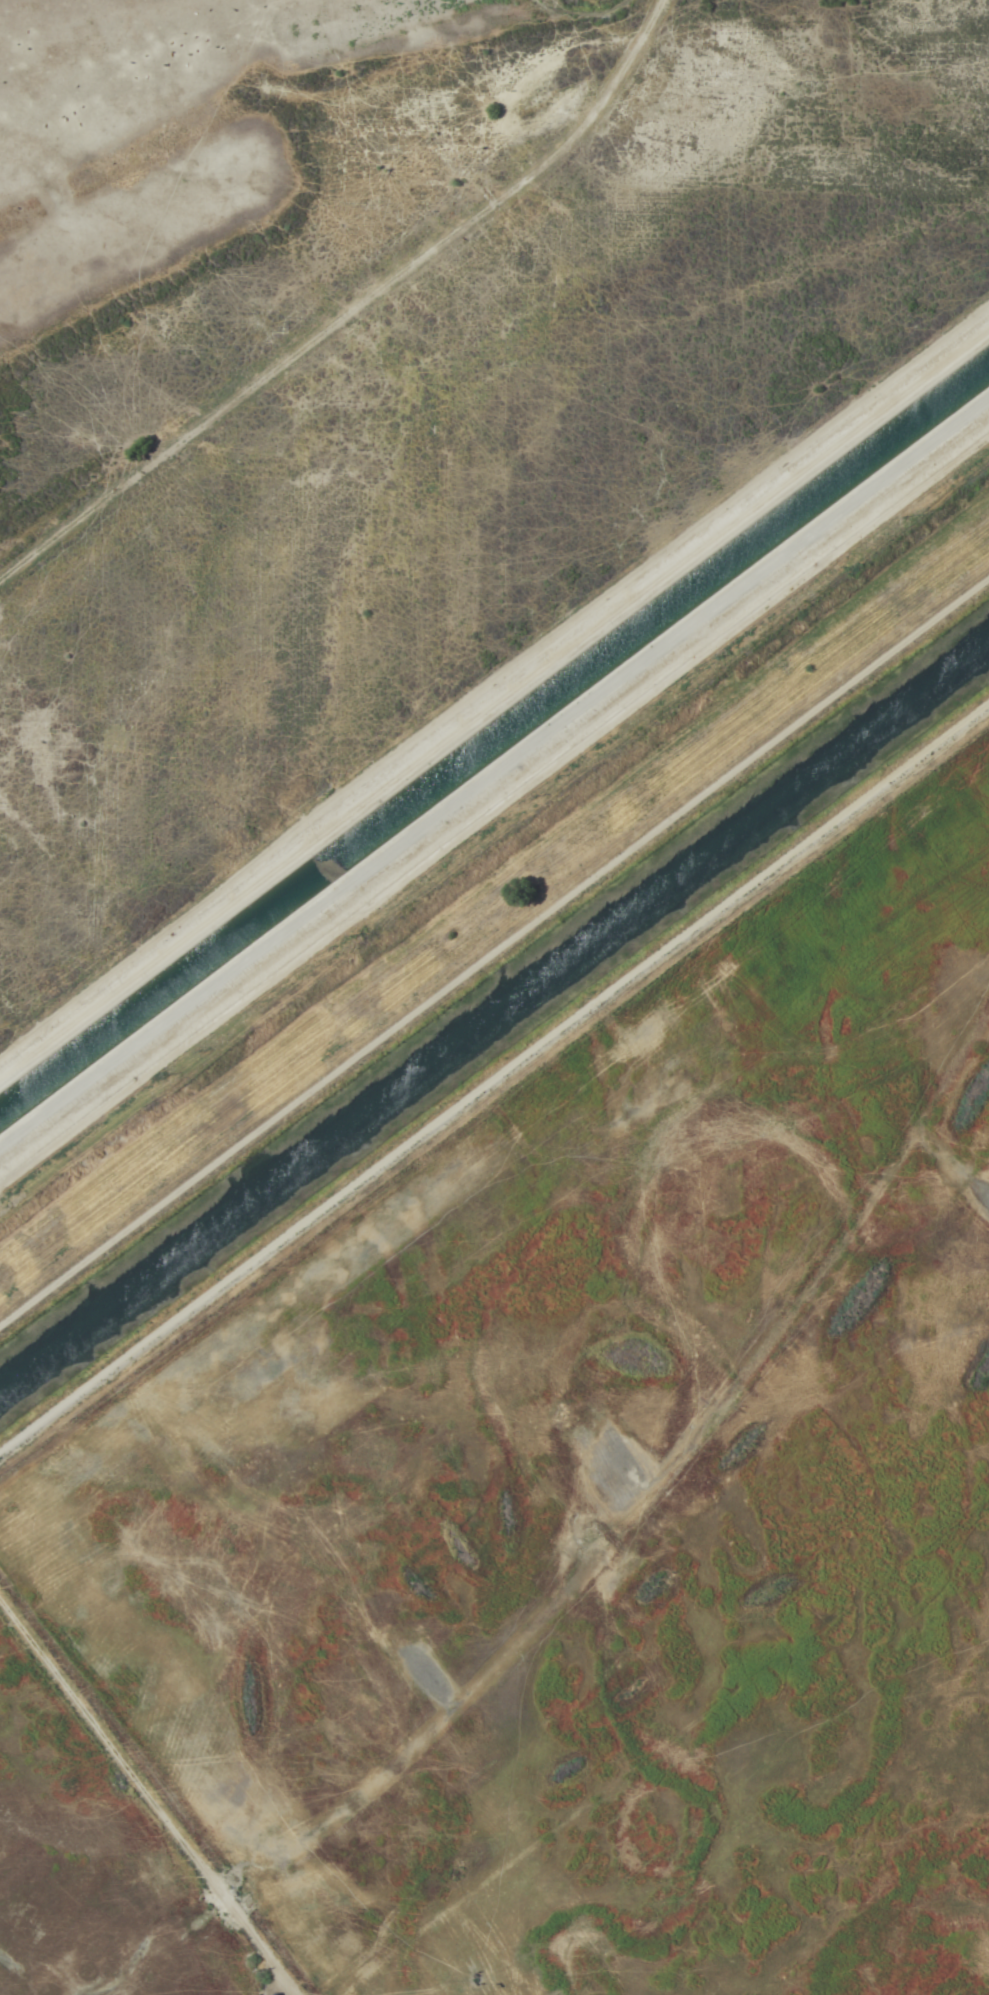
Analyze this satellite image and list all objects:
crop: (404, 379)
road: (149, 1796)

